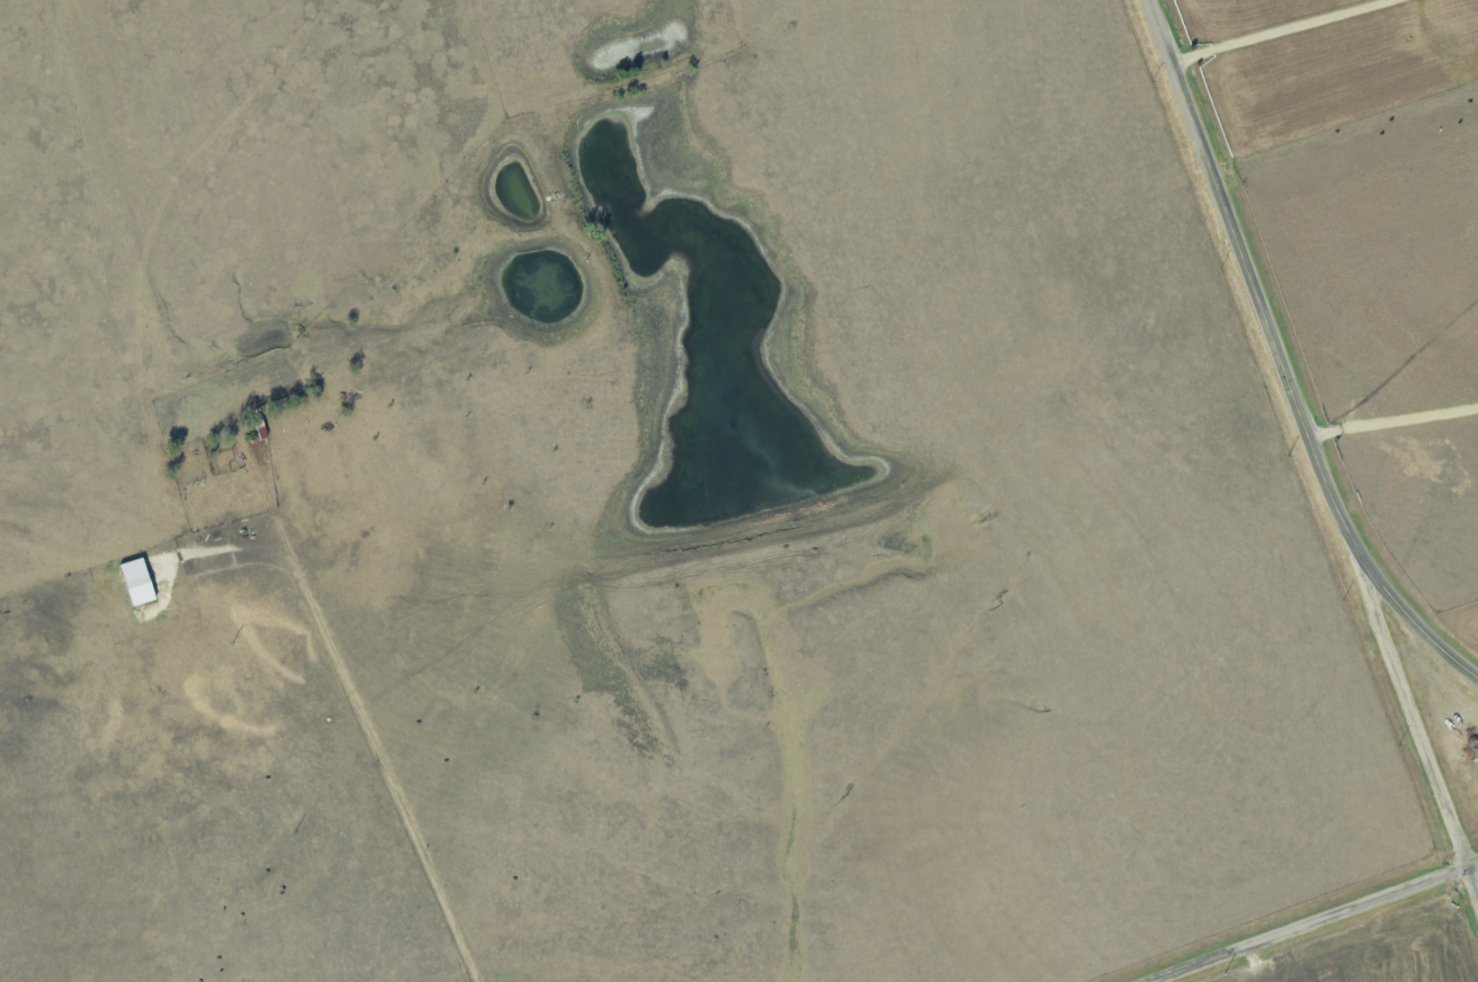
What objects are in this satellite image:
road: (1308, 37)
road: (1284, 357)
road: (1395, 420)
building: (138, 581)
road: (1416, 718)
road: (391, 719)
road: (1314, 922)

